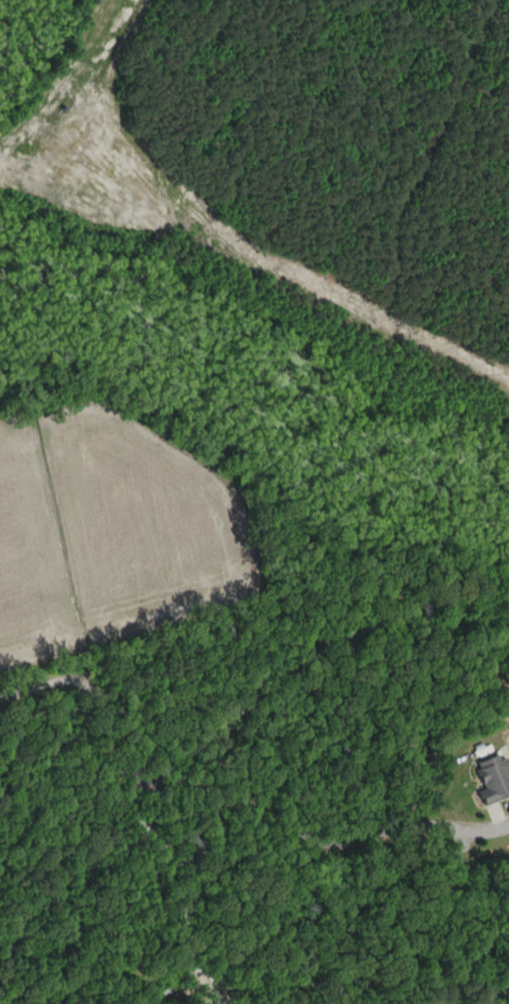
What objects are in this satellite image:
building: (493, 779)
road: (223, 795)
road: (186, 875)

